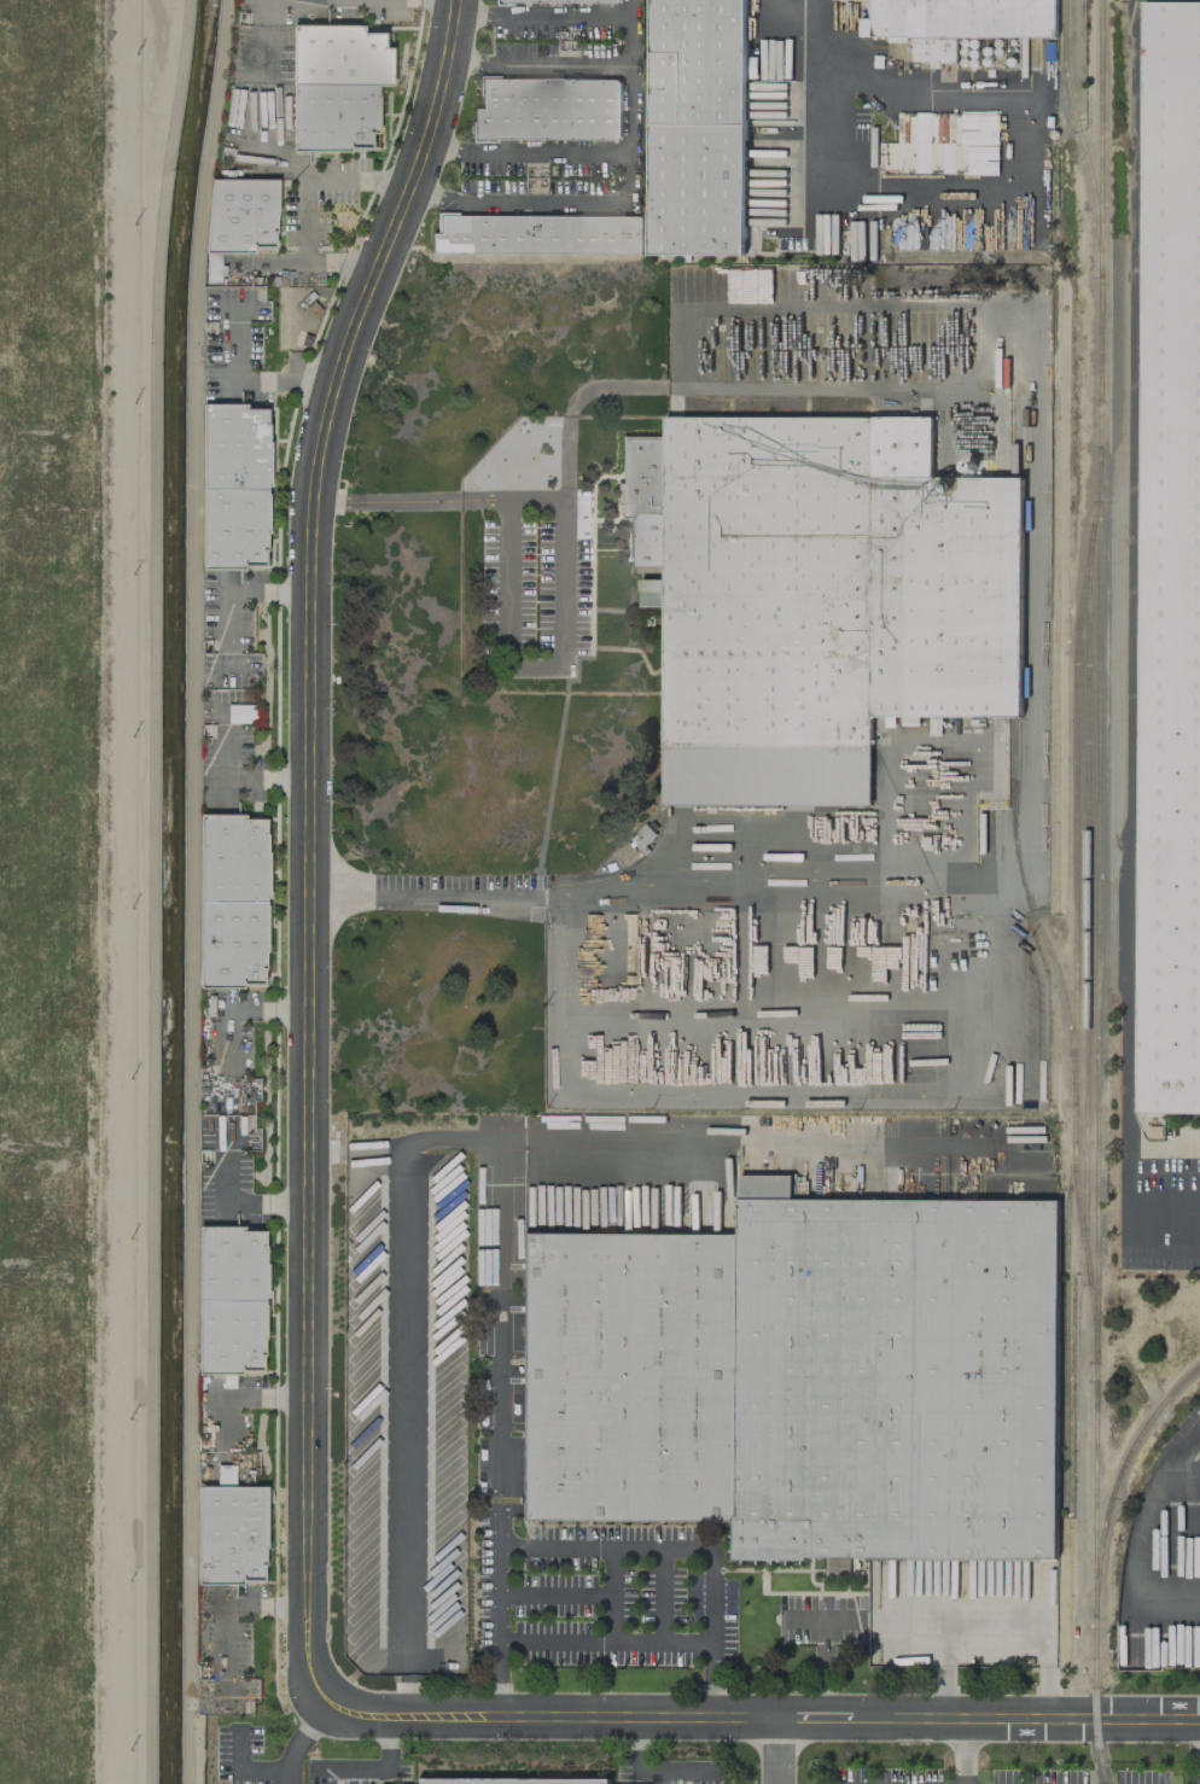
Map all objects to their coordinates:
building: (564, 0)
road: (808, 4)
road: (541, 14)
building: (962, 17)
road: (808, 18)
road: (261, 46)
road: (537, 64)
building: (336, 84)
building: (547, 109)
building: (697, 126)
railway: (1082, 130)
building: (980, 144)
road: (262, 146)
road: (604, 156)
road: (318, 179)
road: (1003, 183)
road: (540, 204)
building: (239, 212)
building: (537, 233)
road: (313, 260)
road: (231, 264)
road: (1004, 333)
building: (232, 486)
building: (629, 538)
road: (565, 562)
building: (1170, 566)
building: (816, 597)
road: (1129, 637)
building: (240, 712)
railway: (1101, 792)
road: (309, 839)
road: (437, 891)
building: (231, 899)
railway: (1035, 911)
railway: (1089, 937)
railway: (1078, 987)
road: (969, 1044)
railway: (1079, 1194)
building: (229, 1299)
road: (497, 1334)
building: (802, 1378)
road: (410, 1427)
building: (228, 1534)
railway: (1101, 1561)
road: (610, 1593)
road: (659, 1594)
road: (553, 1596)
road: (710, 1598)
road: (800, 1617)
road: (821, 1648)
road: (710, 1679)
road: (759, 1719)
road: (305, 1741)
road: (780, 1751)
road: (961, 1751)
road: (381, 1766)
road: (652, 1768)
building: (507, 1780)

